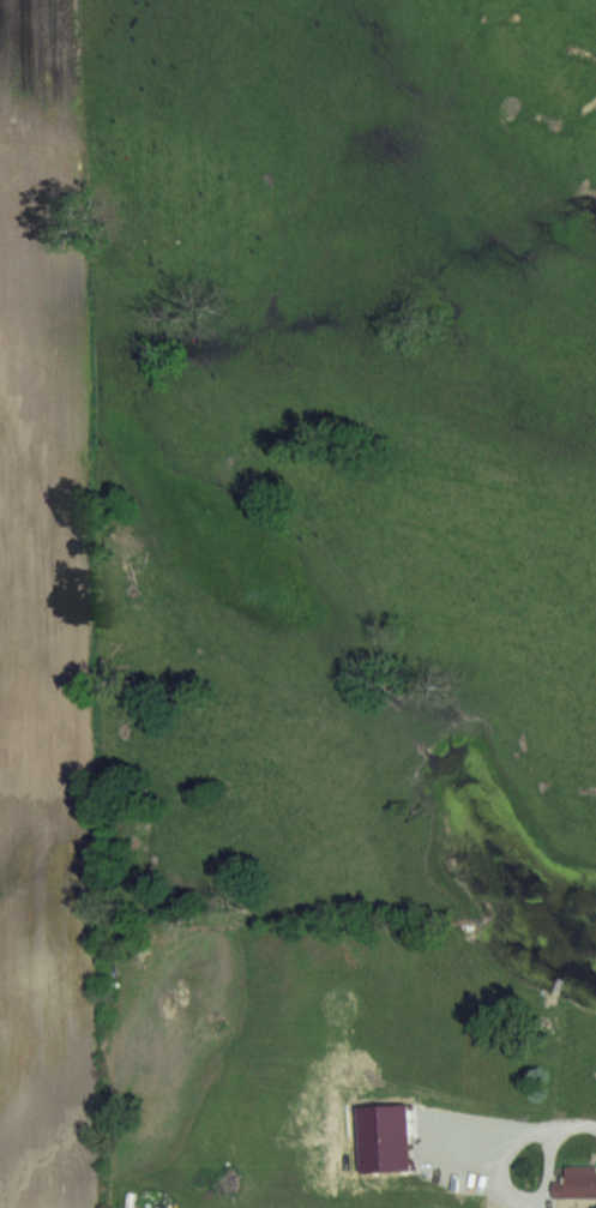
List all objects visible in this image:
building: (578, 1184)

